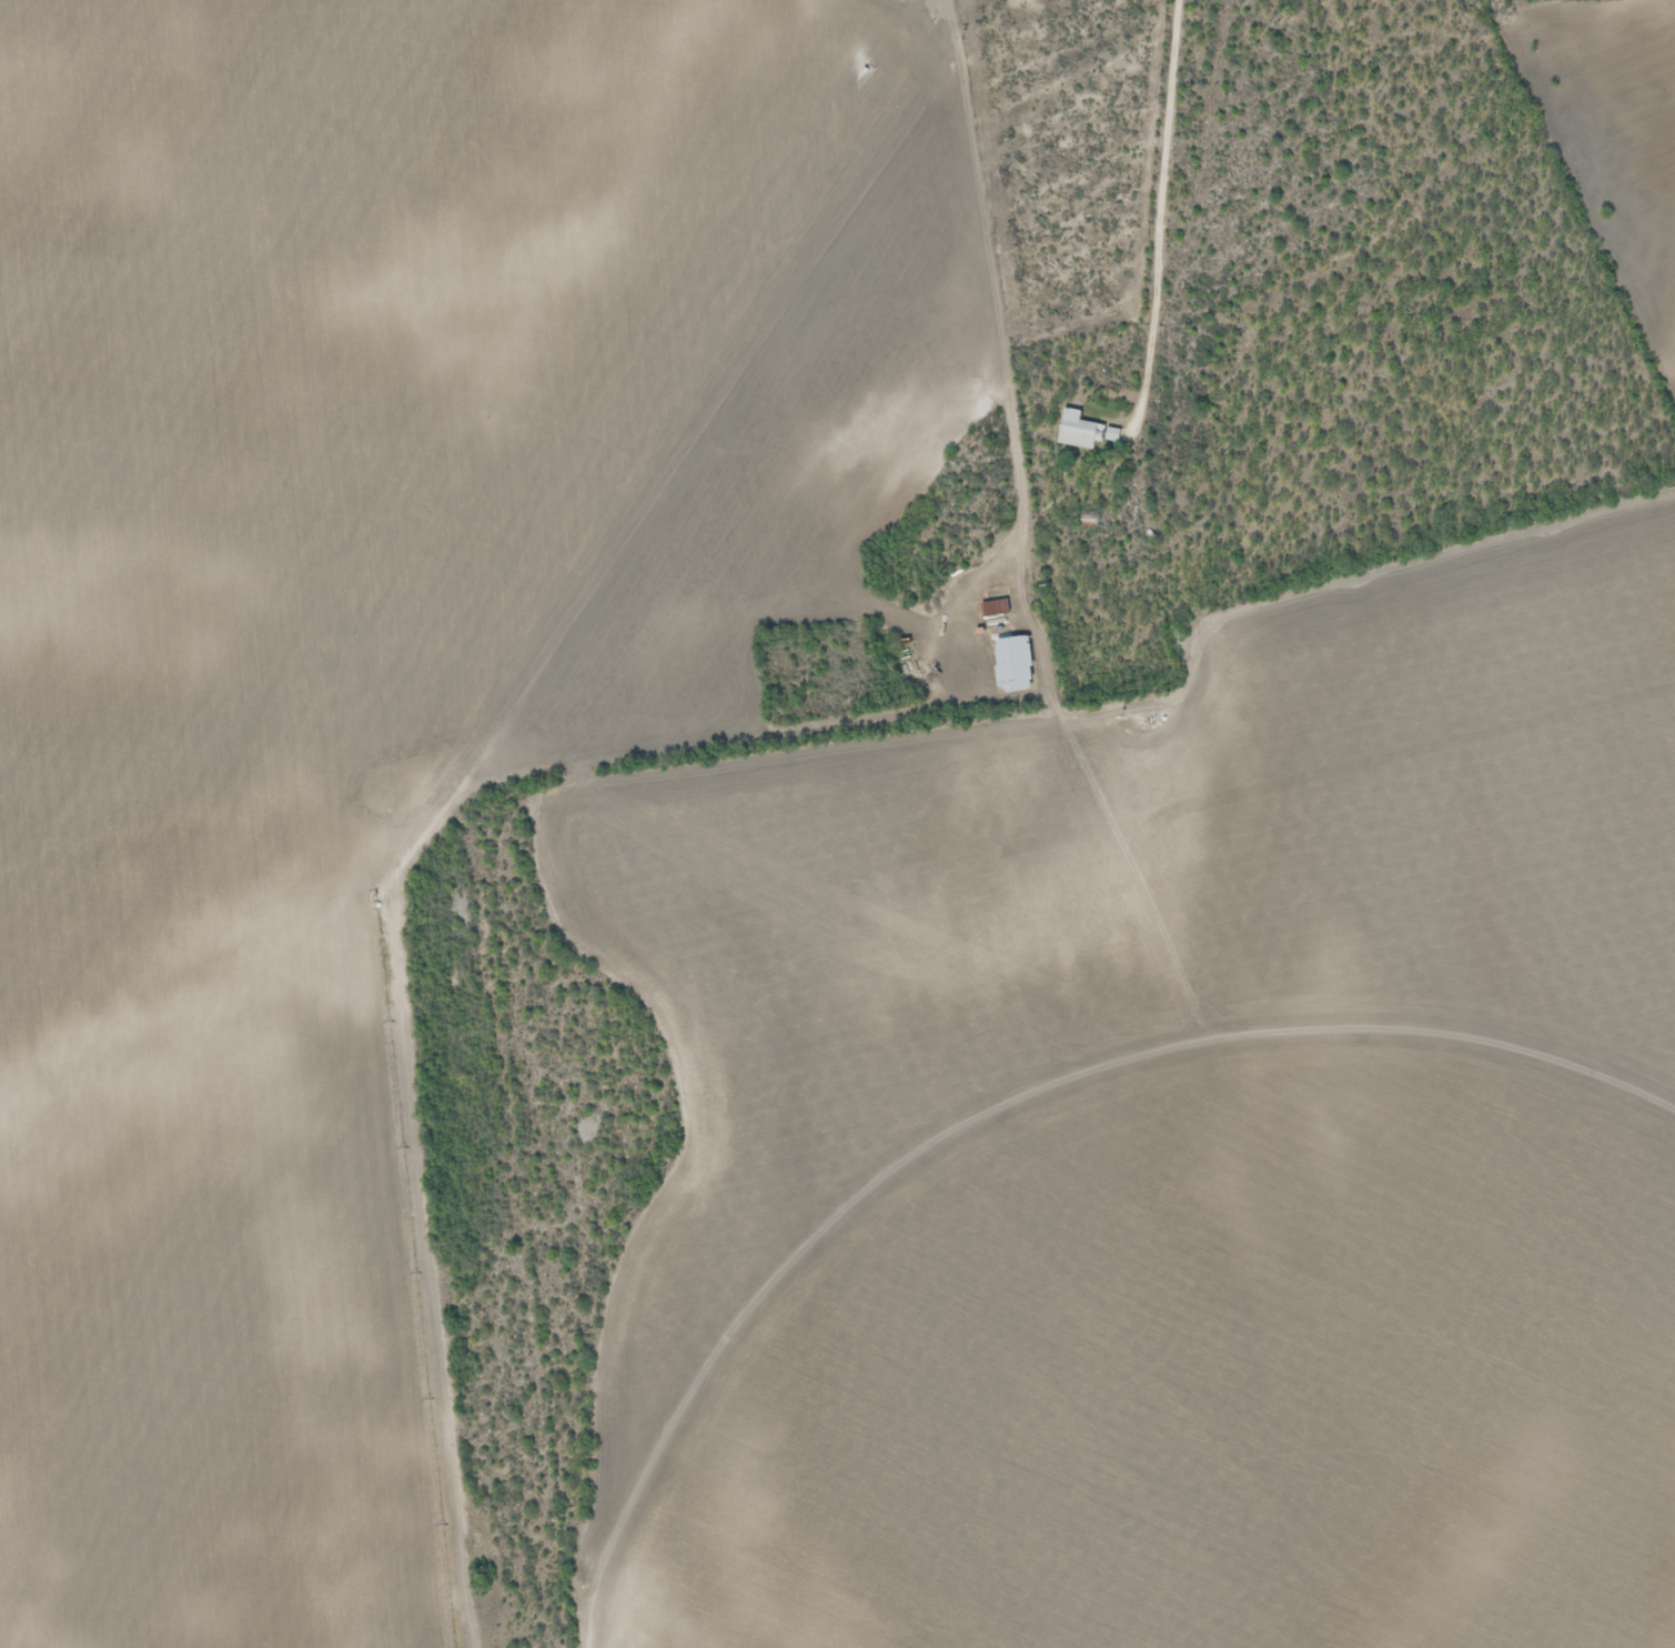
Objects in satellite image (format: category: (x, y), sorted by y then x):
building: (1076, 431)
road: (1148, 536)
building: (1010, 664)

